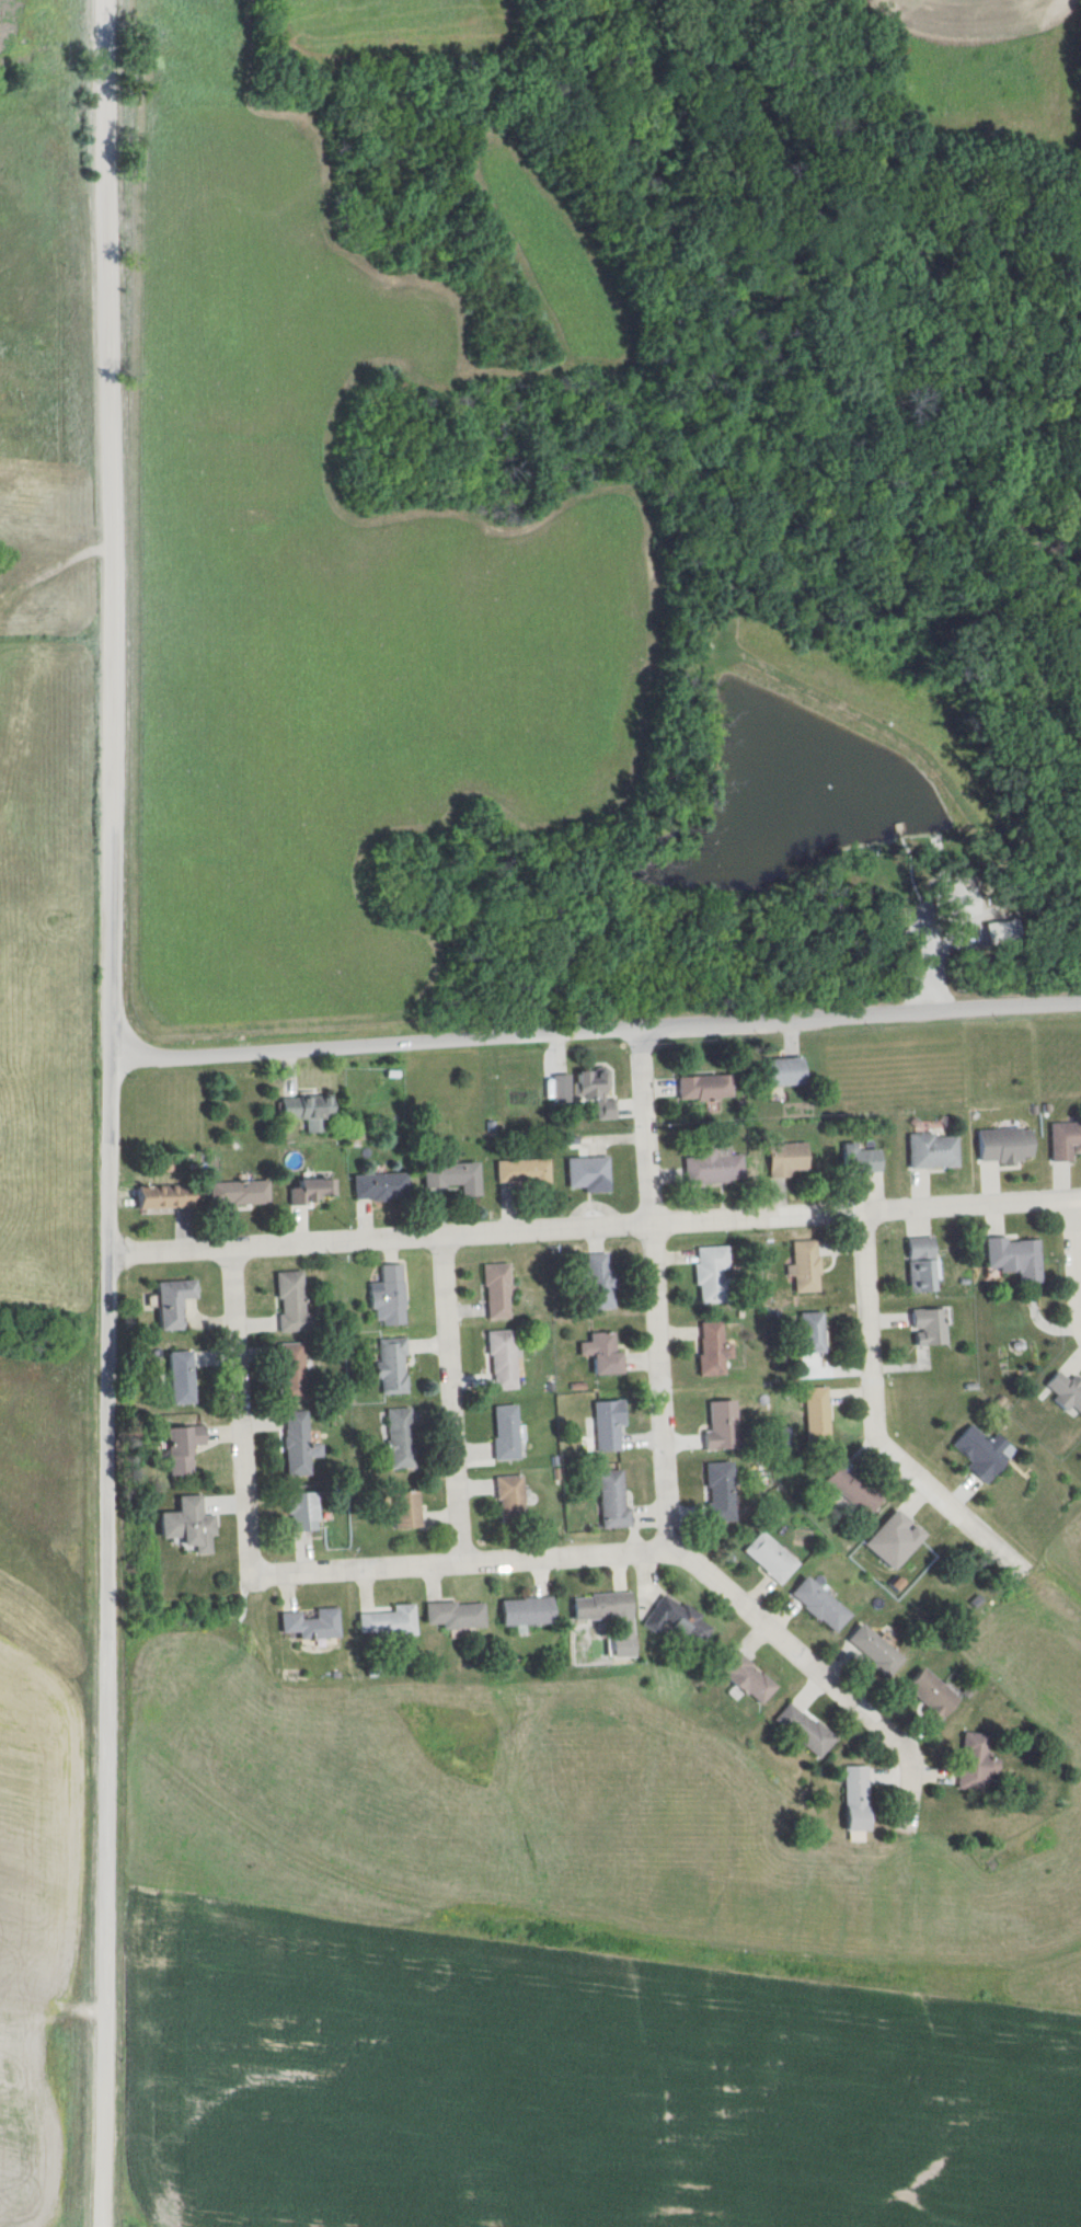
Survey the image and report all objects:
crop: (398, 26)
crop: (989, 64)
crop: (544, 267)
crop: (333, 598)
road: (599, 1030)
building: (787, 1071)
building: (706, 1088)
building: (598, 1090)
building: (312, 1111)
road: (117, 1113)
building: (1061, 1141)
building: (999, 1147)
building: (929, 1151)
building: (790, 1159)
building: (866, 1161)
building: (714, 1166)
building: (526, 1171)
building: (590, 1172)
building: (456, 1178)
building: (383, 1187)
building: (315, 1192)
building: (241, 1193)
building: (170, 1197)
road: (597, 1228)
road: (1076, 1255)
building: (1010, 1259)
building: (923, 1265)
building: (806, 1271)
building: (715, 1274)
building: (603, 1279)
building: (498, 1290)
building: (390, 1295)
building: (176, 1302)
building: (295, 1304)
building: (931, 1327)
building: (814, 1333)
building: (716, 1348)
building: (606, 1354)
building: (504, 1359)
building: (393, 1366)
building: (292, 1371)
building: (184, 1377)
building: (1061, 1391)
road: (453, 1400)
building: (818, 1407)
road: (243, 1410)
road: (873, 1420)
building: (612, 1424)
building: (724, 1425)
building: (508, 1433)
building: (402, 1437)
building: (300, 1445)
building: (185, 1448)
building: (985, 1451)
road: (667, 1479)
building: (858, 1491)
building: (724, 1492)
building: (513, 1500)
building: (617, 1501)
building: (410, 1509)
building: (307, 1512)
building: (193, 1526)
building: (899, 1539)
building: (774, 1558)
road: (469, 1562)
building: (824, 1605)
building: (605, 1606)
building: (530, 1611)
building: (459, 1616)
building: (681, 1620)
building: (392, 1623)
building: (315, 1625)
building: (878, 1651)
crop: (45, 1671)
building: (750, 1677)
building: (934, 1692)
building: (807, 1730)
building: (978, 1761)
building: (859, 1799)
crop: (562, 2081)
crop: (23, 2137)

